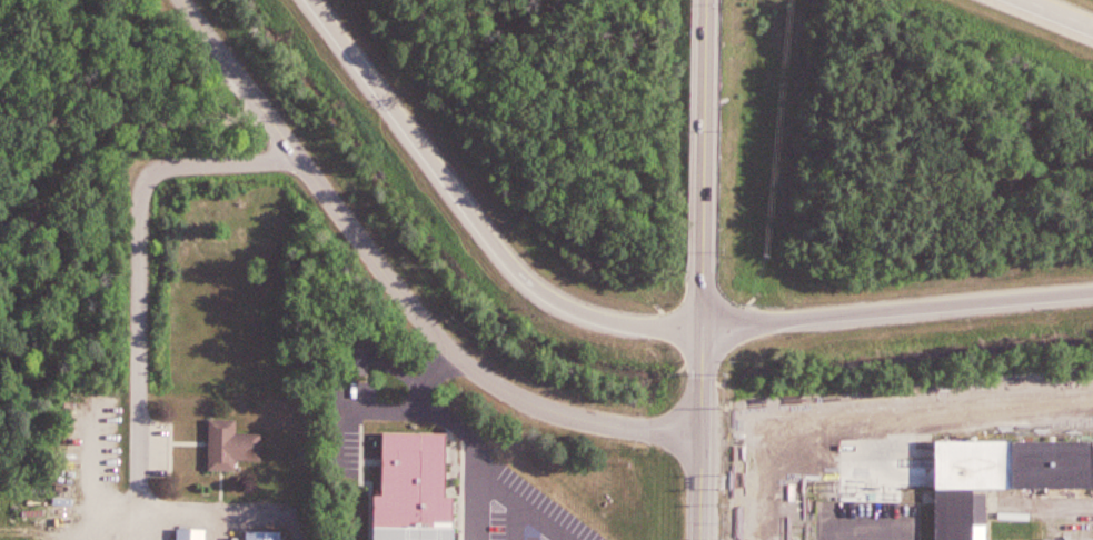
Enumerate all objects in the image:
road: (1059, 13)
road: (120, 86)
road: (135, 118)
road: (474, 216)
road: (703, 270)
road: (395, 283)
road: (897, 309)
road: (135, 329)
road: (457, 426)
building: (230, 442)
building: (1001, 478)
building: (414, 488)
road: (525, 516)
building: (1066, 522)
building: (264, 536)
building: (1052, 539)
building: (1087, 539)

